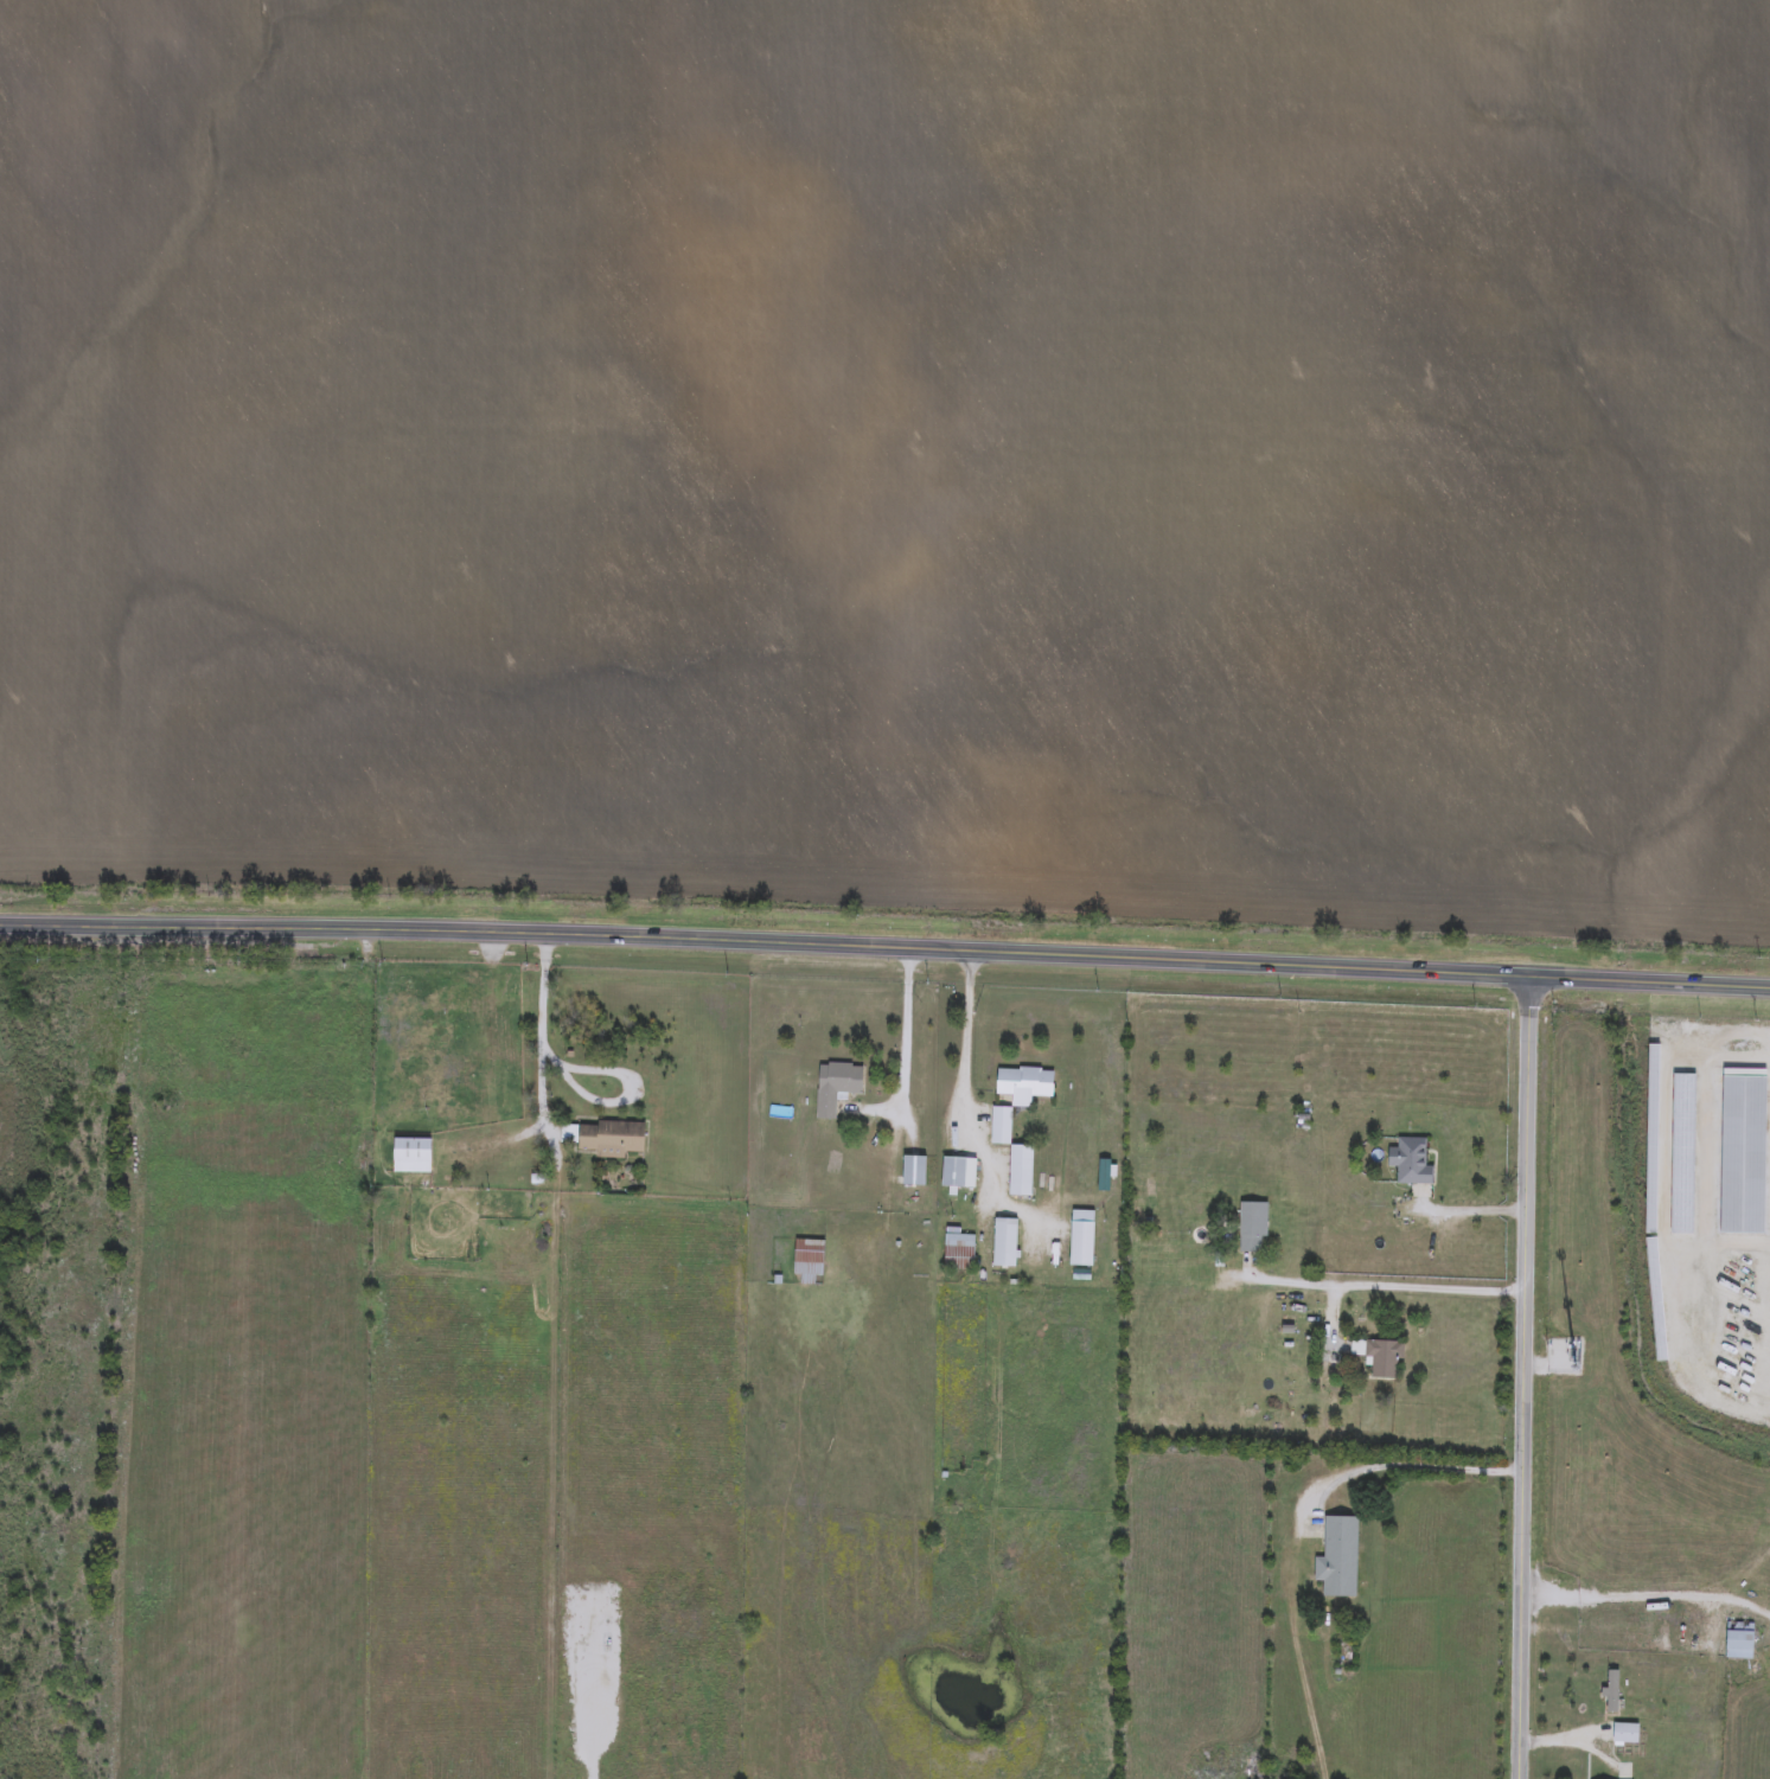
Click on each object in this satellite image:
road: (884, 948)
road: (964, 1043)
road: (902, 1060)
road: (587, 1067)
building: (1023, 1086)
building: (835, 1087)
building: (611, 1140)
building: (410, 1157)
building: (1743, 1157)
building: (1408, 1164)
building: (913, 1173)
building: (952, 1173)
road: (1474, 1215)
road: (1672, 1217)
building: (1252, 1229)
building: (1003, 1244)
building: (957, 1254)
building: (807, 1261)
road: (1374, 1288)
road: (1330, 1332)
building: (1378, 1358)
road: (1527, 1378)
road: (1296, 1527)
building: (1337, 1559)
road: (1648, 1600)
road: (1617, 1634)
building: (1738, 1643)
building: (1610, 1692)
building: (1625, 1735)
road: (1558, 1742)

